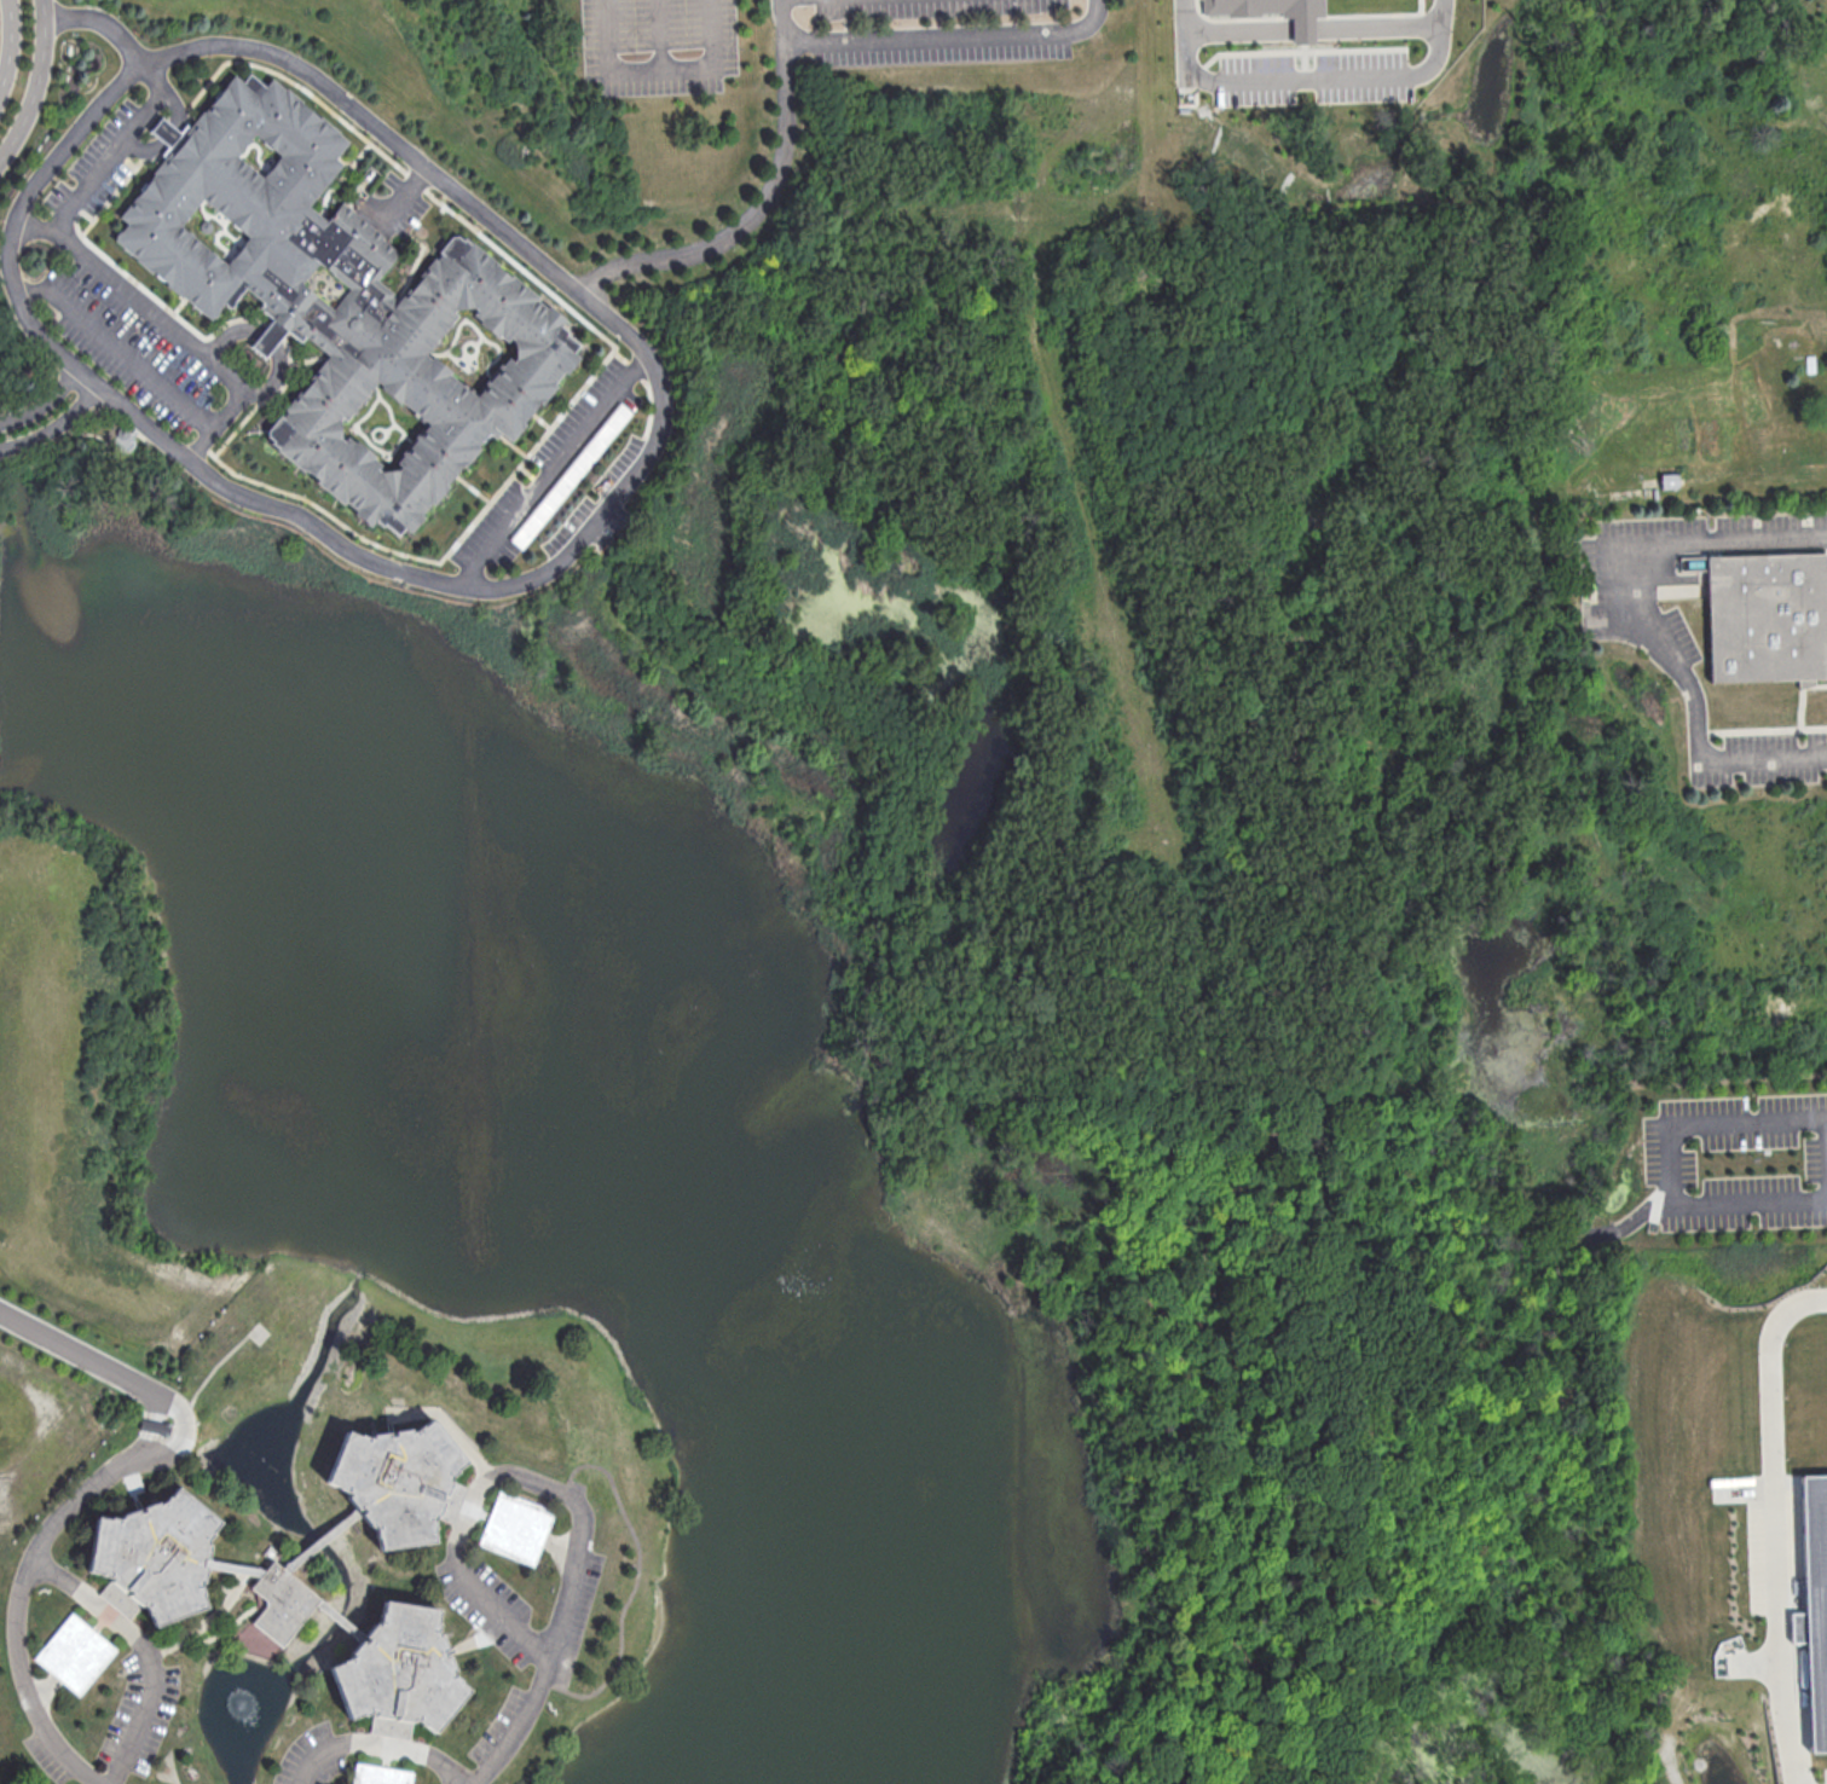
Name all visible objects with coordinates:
building: (1278, 12)
road: (1313, 27)
parking lot: (939, 29)
road: (659, 34)
road: (946, 36)
road: (10, 44)
parking lot: (660, 44)
road: (659, 68)
road: (1305, 79)
road: (35, 82)
road: (178, 118)
building: (169, 131)
road: (109, 157)
road: (761, 202)
road: (13, 218)
road: (134, 295)
building: (341, 301)
building: (271, 337)
road: (116, 347)
road: (655, 370)
road: (273, 378)
road: (44, 401)
road: (53, 424)
road: (553, 470)
road: (1713, 545)
building: (1767, 618)
road: (1695, 712)
road: (1667, 1163)
road: (1630, 1221)
helipad: (259, 1332)
road: (85, 1357)
road: (212, 1371)
road: (152, 1427)
road: (183, 1441)
building: (399, 1481)
road: (473, 1511)
road: (1773, 1522)
building: (516, 1527)
road: (320, 1539)
road: (561, 1545)
building: (154, 1557)
road: (232, 1566)
road: (459, 1569)
road: (636, 1582)
building: (1815, 1600)
building: (281, 1601)
road: (16, 1606)
road: (561, 1615)
road: (103, 1616)
road: (340, 1620)
road: (207, 1621)
road: (229, 1629)
road: (478, 1637)
building: (256, 1641)
road: (144, 1649)
building: (74, 1653)
building: (399, 1673)
road: (41, 1687)
fountain: (239, 1705)
road: (378, 1744)
road: (386, 1750)
building: (380, 1774)

